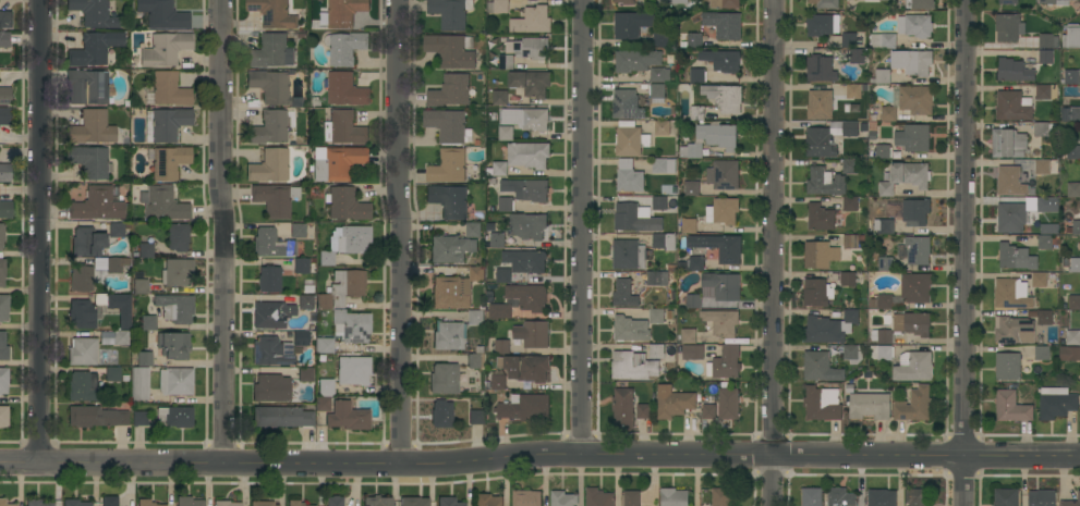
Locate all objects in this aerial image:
building: (879, 0)
building: (872, 1)
building: (624, 2)
building: (672, 2)
building: (1008, 2)
building: (1056, 2)
building: (825, 3)
building: (724, 4)
building: (922, 4)
building: (498, 7)
building: (94, 13)
building: (274, 13)
building: (343, 13)
building: (450, 13)
building: (161, 15)
building: (5, 20)
building: (533, 21)
building: (633, 24)
building: (724, 25)
building: (822, 25)
building: (915, 26)
building: (1009, 27)
building: (1071, 36)
building: (4, 39)
building: (660, 40)
building: (694, 40)
building: (849, 40)
building: (883, 40)
building: (1046, 41)
building: (345, 48)
building: (532, 48)
building: (163, 49)
building: (88, 51)
building: (269, 51)
building: (451, 51)
building: (857, 57)
building: (1045, 57)
building: (670, 60)
building: (723, 60)
building: (635, 61)
building: (506, 62)
building: (912, 62)
building: (821, 69)
building: (1010, 70)
building: (659, 75)
building: (697, 76)
building: (881, 76)
building: (1072, 77)
building: (531, 83)
building: (269, 86)
building: (86, 87)
building: (169, 89)
building: (345, 90)
building: (450, 91)
building: (853, 91)
building: (1046, 91)
building: (657, 92)
building: (5, 96)
building: (500, 98)
building: (725, 98)
building: (917, 100)
building: (624, 104)
building: (820, 104)
building: (1014, 107)
building: (696, 113)
building: (889, 114)
building: (1070, 114)
building: (5, 116)
building: (526, 119)
building: (165, 124)
building: (447, 125)
building: (90, 128)
building: (269, 128)
building: (343, 128)
building: (662, 128)
building: (850, 128)
building: (1043, 129)
building: (506, 133)
building: (469, 136)
building: (719, 136)
building: (913, 138)
building: (630, 139)
building: (820, 144)
building: (1009, 144)
building: (691, 151)
building: (883, 151)
building: (1072, 152)
building: (529, 156)
building: (89, 161)
building: (168, 162)
building: (336, 162)
building: (664, 165)
building: (269, 166)
building: (449, 166)
building: (850, 166)
building: (1043, 166)
building: (500, 169)
building: (4, 173)
building: (724, 175)
building: (629, 177)
building: (906, 177)
building: (1010, 182)
building: (825, 183)
building: (692, 188)
building: (527, 189)
building: (1073, 189)
building: (275, 200)
building: (449, 201)
building: (97, 203)
building: (162, 203)
building: (659, 203)
building: (1044, 203)
building: (345, 205)
building: (506, 205)
building: (850, 205)
building: (5, 210)
building: (909, 210)
building: (723, 211)
building: (823, 218)
building: (1011, 218)
building: (634, 220)
building: (529, 226)
road: (580, 226)
building: (689, 226)
building: (885, 226)
building: (1076, 227)
building: (473, 230)
building: (116, 231)
building: (298, 231)
road: (38, 232)
road: (222, 232)
road: (399, 232)
building: (1, 235)
building: (178, 237)
building: (497, 240)
building: (87, 242)
building: (665, 242)
building: (851, 242)
building: (1047, 242)
building: (345, 243)
building: (271, 244)
building: (450, 248)
building: (145, 250)
building: (727, 250)
building: (918, 250)
road: (772, 252)
road: (964, 252)
building: (628, 255)
building: (820, 255)
building: (1016, 258)
building: (525, 261)
building: (696, 263)
building: (110, 264)
building: (302, 264)
building: (885, 264)
building: (1076, 266)
building: (1, 272)
building: (178, 272)
building: (476, 274)
building: (503, 275)
building: (80, 279)
building: (269, 279)
building: (657, 279)
building: (849, 279)
building: (1040, 280)
building: (141, 286)
building: (723, 286)
building: (917, 287)
building: (709, 293)
building: (817, 293)
building: (449, 294)
building: (624, 294)
building: (1011, 294)
building: (527, 297)
building: (306, 301)
building: (694, 303)
building: (885, 303)
building: (1073, 303)
building: (329, 304)
building: (3, 308)
building: (174, 308)
building: (120, 309)
building: (499, 311)
building: (81, 314)
building: (267, 314)
building: (657, 316)
building: (669, 316)
building: (476, 318)
building: (1045, 318)
building: (721, 322)
building: (148, 323)
building: (829, 328)
building: (903, 328)
building: (312, 329)
building: (631, 330)
building: (1014, 330)
building: (533, 334)
building: (448, 335)
building: (689, 336)
building: (120, 337)
building: (301, 338)
building: (1073, 338)
building: (173, 345)
building: (324, 345)
building: (107, 346)
building: (2, 347)
building: (500, 347)
building: (481, 349)
building: (82, 351)
building: (271, 351)
building: (662, 353)
building: (692, 353)
building: (882, 353)
building: (852, 354)
building: (1042, 354)
building: (1069, 354)
building: (144, 359)
building: (476, 361)
building: (725, 363)
building: (633, 366)
building: (913, 367)
building: (1008, 367)
building: (821, 368)
building: (529, 369)
building: (353, 370)
building: (112, 373)
building: (305, 374)
building: (444, 378)
building: (3, 380)
building: (174, 381)
building: (498, 382)
building: (139, 383)
building: (82, 386)
building: (325, 387)
building: (271, 388)
building: (672, 403)
building: (1056, 403)
building: (321, 404)
building: (729, 404)
building: (822, 404)
building: (870, 406)
building: (914, 406)
building: (1011, 407)
building: (623, 408)
building: (525, 409)
building: (644, 411)
building: (711, 411)
building: (441, 414)
building: (348, 416)
building: (3, 417)
building: (95, 417)
building: (174, 417)
building: (281, 417)
building: (475, 417)
building: (139, 418)
road: (539, 454)
building: (812, 496)
building: (598, 497)
building: (631, 497)
building: (675, 497)
building: (723, 497)
building: (841, 497)
building: (882, 497)
building: (917, 497)
building: (1006, 497)
building: (1042, 497)
building: (526, 498)
building: (563, 498)
building: (109, 501)
building: (333, 501)
building: (377, 501)
building: (488, 501)
building: (2, 502)
building: (189, 502)
building: (413, 502)
building: (449, 502)
building: (1071, 502)
building: (36, 503)
building: (75, 503)
building: (146, 503)
building: (225, 503)
building: (294, 503)
building: (263, 504)

